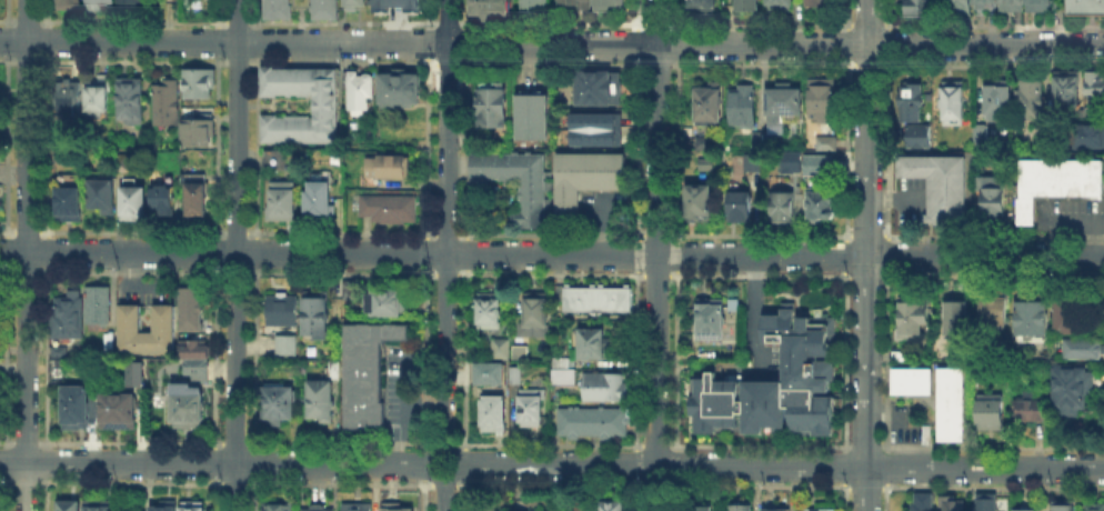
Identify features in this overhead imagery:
building: (986, 1)
building: (1011, 1)
building: (133, 2)
building: (574, 2)
building: (823, 2)
building: (1037, 2)
building: (104, 3)
building: (357, 4)
building: (395, 4)
building: (610, 4)
building: (781, 4)
building: (71, 6)
building: (535, 6)
building: (750, 6)
building: (704, 7)
building: (1085, 7)
building: (921, 8)
building: (961, 8)
building: (490, 9)
building: (279, 10)
building: (325, 10)
road: (6, 12)
road: (46, 12)
road: (217, 12)
road: (252, 13)
road: (425, 13)
road: (635, 13)
road: (676, 13)
road: (845, 13)
road: (886, 13)
road: (468, 14)
road: (7, 19)
road: (26, 19)
road: (131, 19)
road: (235, 20)
road: (341, 21)
road: (445, 21)
road: (550, 22)
road: (654, 22)
road: (759, 22)
road: (865, 23)
road: (992, 23)
road: (46, 39)
road: (551, 39)
road: (4, 40)
road: (217, 41)
road: (253, 41)
road: (425, 42)
road: (676, 42)
road: (635, 43)
road: (845, 43)
road: (886, 43)
road: (469, 44)
road: (7, 59)
road: (26, 59)
road: (131, 61)
road: (235, 61)
road: (340, 61)
road: (993, 61)
road: (444, 62)
road: (550, 62)
road: (656, 63)
road: (759, 64)
road: (866, 64)
building: (200, 87)
building: (601, 90)
building: (401, 91)
building: (1067, 91)
building: (361, 93)
building: (1096, 93)
building: (70, 100)
building: (1030, 100)
building: (98, 102)
building: (824, 102)
building: (1000, 102)
building: (132, 103)
building: (913, 104)
building: (953, 104)
building: (167, 106)
building: (709, 106)
building: (785, 106)
building: (327, 107)
building: (494, 108)
building: (743, 108)
building: (533, 117)
building: (593, 128)
building: (199, 133)
building: (922, 137)
building: (980, 137)
building: (1087, 139)
building: (766, 140)
road: (4, 144)
road: (46, 144)
building: (826, 144)
road: (215, 146)
building: (706, 146)
road: (254, 147)
road: (424, 147)
road: (635, 148)
road: (675, 149)
road: (843, 149)
road: (885, 149)
road: (469, 150)
building: (64, 158)
building: (275, 160)
building: (787, 160)
building: (816, 163)
building: (123, 164)
building: (755, 166)
building: (389, 168)
building: (707, 168)
building: (588, 179)
building: (1055, 180)
building: (941, 188)
building: (102, 196)
building: (195, 196)
building: (534, 201)
parking lot: (913, 201)
building: (993, 201)
building: (164, 202)
building: (283, 204)
building: (70, 206)
building: (136, 206)
building: (321, 206)
parking lot: (601, 206)
building: (700, 206)
building: (782, 206)
parking lot: (1066, 208)
building: (741, 209)
building: (821, 209)
building: (390, 210)
road: (445, 224)
road: (8, 231)
road: (26, 231)
road: (27, 231)
road: (133, 231)
road: (237, 232)
road: (342, 232)
road: (448, 232)
road: (550, 233)
road: (656, 234)
road: (759, 234)
road: (866, 234)
road: (993, 234)
road: (551, 249)
road: (43, 250)
road: (4, 251)
road: (215, 251)
road: (254, 252)
road: (423, 252)
road: (675, 253)
road: (885, 253)
road: (235, 254)
road: (468, 254)
road: (636, 254)
road: (655, 254)
road: (842, 255)
road: (867, 255)
road: (27, 271)
road: (7, 272)
road: (131, 272)
road: (237, 273)
road: (342, 273)
road: (446, 273)
road: (551, 273)
road: (656, 274)
road: (759, 274)
road: (992, 275)
road: (865, 277)
building: (353, 289)
building: (600, 300)
building: (388, 304)
building: (0, 308)
building: (99, 308)
building: (284, 312)
building: (490, 312)
building: (996, 312)
building: (193, 313)
building: (69, 317)
building: (1070, 317)
building: (319, 318)
building: (538, 318)
building: (1033, 319)
building: (712, 320)
building: (914, 320)
building: (957, 320)
building: (149, 332)
building: (593, 344)
building: (192, 347)
building: (499, 347)
building: (289, 348)
building: (111, 349)
building: (1085, 349)
building: (58, 350)
building: (518, 351)
road: (3, 357)
road: (43, 357)
road: (214, 357)
road: (254, 357)
road: (423, 358)
road: (468, 359)
road: (674, 359)
road: (843, 360)
road: (885, 360)
road: (636, 361)
building: (561, 362)
building: (194, 369)
building: (141, 370)
building: (368, 372)
building: (488, 372)
building: (514, 373)
building: (561, 374)
parking lot: (398, 384)
building: (603, 384)
building: (776, 384)
building: (1073, 390)
building: (324, 401)
building: (185, 404)
building: (281, 404)
building: (79, 409)
building: (534, 410)
building: (993, 410)
building: (1032, 411)
building: (120, 413)
building: (496, 417)
building: (950, 417)
building: (590, 420)
road: (6, 441)
road: (24, 441)
road: (129, 441)
road: (234, 442)
road: (339, 442)
road: (445, 444)
road: (551, 445)
road: (656, 447)
road: (761, 448)
road: (867, 448)
road: (993, 448)
road: (435, 451)
road: (3, 462)
road: (43, 462)
road: (255, 462)
road: (213, 463)
road: (422, 463)
road: (465, 463)
road: (214, 464)
road: (673, 464)
road: (843, 465)
road: (634, 467)
road: (781, 467)
road: (885, 468)
road: (3, 478)
road: (6, 480)
road: (23, 480)
road: (129, 482)
road: (233, 483)
road: (338, 483)
road: (443, 483)
road: (549, 484)
road: (656, 485)
road: (24, 487)
road: (760, 488)
road: (992, 489)
road: (866, 490)
road: (42, 493)
road: (254, 493)
road: (463, 493)
road: (213, 494)
road: (423, 494)
road: (672, 494)
road: (444, 495)
road: (633, 495)
road: (842, 495)
road: (885, 497)
building: (923, 502)
building: (953, 503)
building: (986, 504)
building: (70, 507)
building: (101, 507)
building: (281, 508)
building: (360, 508)
building: (397, 508)
building: (613, 508)
building: (701, 508)
building: (826, 508)
building: (1064, 508)
building: (1095, 508)
building: (165, 509)
building: (194, 509)
building: (742, 509)
building: (772, 509)
building: (816, 509)
building: (1022, 509)
building: (321, 510)
building: (533, 510)

